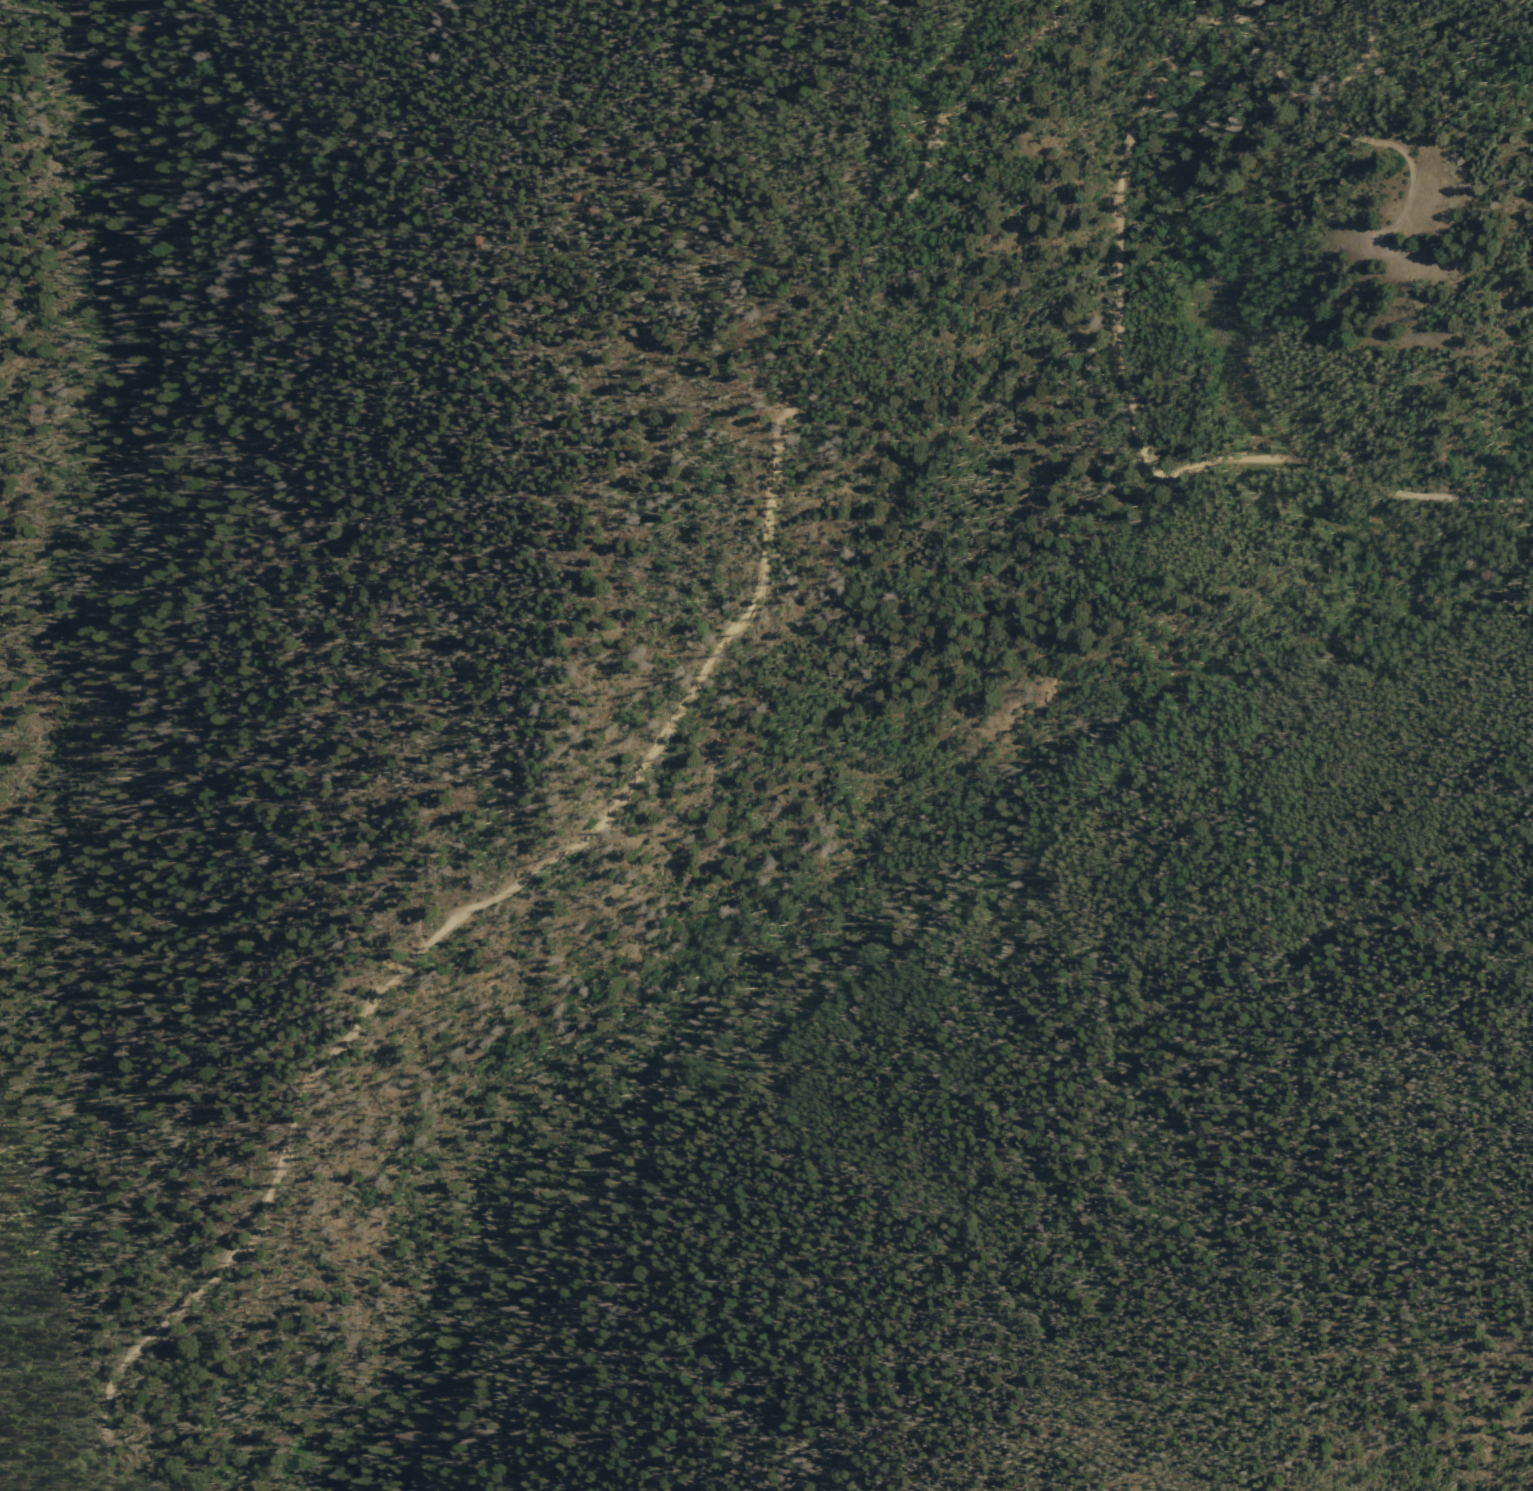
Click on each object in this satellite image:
road: (1409, 152)
road: (1121, 289)
road: (656, 798)
road: (945, 999)

